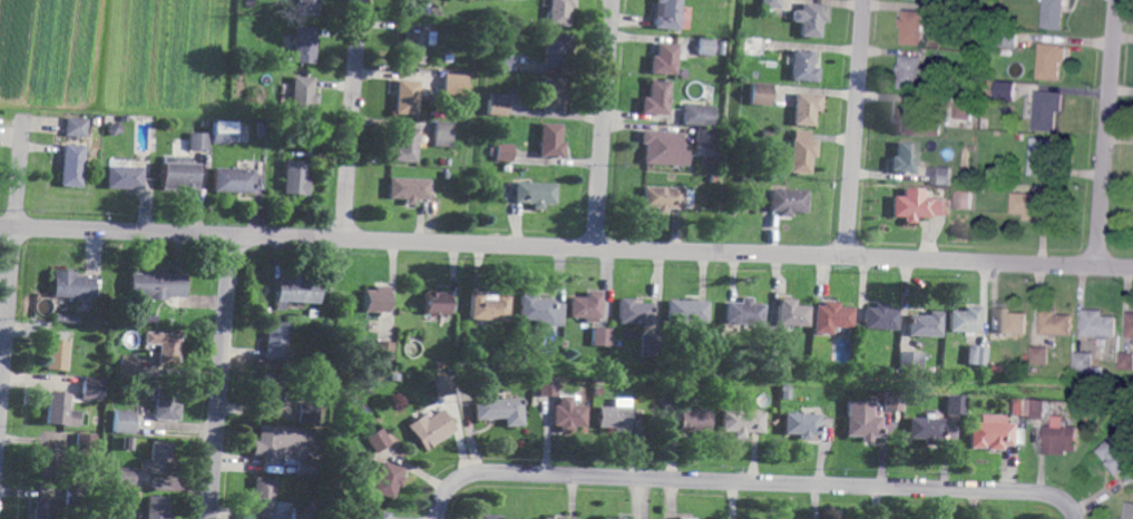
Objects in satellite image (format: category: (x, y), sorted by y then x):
building: (772, 3)
building: (307, 6)
building: (414, 7)
building: (244, 8)
building: (756, 10)
building: (560, 11)
building: (764, 11)
building: (667, 13)
building: (1055, 14)
building: (955, 16)
building: (809, 19)
building: (915, 27)
building: (1008, 41)
building: (305, 45)
building: (414, 46)
building: (753, 47)
building: (555, 49)
building: (704, 49)
building: (501, 57)
building: (940, 57)
building: (665, 58)
building: (257, 60)
building: (1054, 60)
building: (803, 66)
building: (911, 71)
building: (452, 84)
building: (1007, 91)
building: (759, 94)
building: (301, 95)
building: (553, 95)
building: (406, 98)
building: (656, 98)
building: (975, 102)
building: (499, 104)
building: (807, 108)
building: (963, 108)
building: (1048, 110)
building: (696, 116)
building: (124, 118)
road: (353, 119)
building: (912, 121)
road: (604, 124)
building: (986, 124)
building: (77, 126)
road: (856, 128)
building: (114, 129)
building: (260, 129)
building: (222, 133)
road: (1108, 133)
building: (717, 134)
building: (441, 135)
building: (765, 135)
building: (704, 138)
building: (198, 140)
building: (551, 140)
building: (404, 145)
building: (661, 148)
building: (501, 153)
building: (800, 153)
building: (1044, 157)
building: (902, 158)
building: (447, 163)
building: (705, 163)
building: (72, 165)
building: (508, 168)
building: (178, 174)
building: (944, 175)
building: (432, 176)
building: (125, 177)
building: (295, 177)
building: (234, 179)
building: (971, 182)
building: (980, 186)
building: (408, 189)
building: (536, 194)
building: (662, 198)
building: (964, 200)
building: (787, 202)
building: (1034, 205)
building: (916, 206)
road: (116, 231)
road: (258, 235)
road: (232, 246)
road: (557, 246)
road: (848, 256)
road: (998, 262)
road: (12, 272)
building: (72, 284)
building: (158, 285)
building: (295, 292)
building: (377, 300)
building: (585, 306)
building: (436, 307)
building: (490, 307)
building: (541, 310)
building: (687, 311)
building: (634, 312)
building: (743, 313)
building: (790, 313)
building: (311, 314)
building: (880, 316)
building: (831, 317)
building: (66, 319)
building: (150, 319)
building: (965, 320)
building: (1013, 321)
building: (1058, 322)
building: (1101, 323)
building: (925, 324)
building: (1131, 325)
building: (600, 336)
building: (276, 340)
building: (699, 340)
building: (615, 343)
building: (166, 346)
building: (649, 346)
building: (383, 349)
building: (535, 353)
building: (57, 354)
building: (1042, 354)
building: (974, 355)
building: (771, 358)
building: (910, 360)
building: (1126, 360)
building: (1085, 361)
building: (440, 365)
building: (129, 366)
building: (1100, 371)
building: (1063, 375)
building: (395, 376)
building: (458, 379)
building: (445, 385)
building: (547, 386)
building: (89, 388)
road: (221, 388)
building: (272, 389)
building: (597, 391)
building: (784, 395)
building: (843, 395)
building: (891, 402)
building: (163, 403)
building: (954, 405)
building: (1017, 407)
building: (53, 409)
building: (1036, 409)
building: (499, 410)
building: (309, 412)
building: (567, 418)
building: (613, 418)
building: (96, 420)
building: (694, 420)
building: (859, 420)
building: (121, 421)
building: (742, 422)
building: (801, 424)
building: (430, 429)
building: (924, 430)
building: (992, 433)
building: (1064, 437)
building: (378, 440)
building: (268, 441)
building: (82, 444)
building: (160, 457)
building: (1119, 457)
building: (51, 463)
building: (305, 466)
building: (96, 473)
building: (123, 478)
building: (388, 480)
road: (761, 481)
building: (263, 493)
building: (136, 494)
building: (75, 498)
road: (442, 500)
building: (157, 508)
building: (43, 509)
road: (1074, 510)
building: (1130, 511)
building: (297, 513)
building: (378, 515)
building: (488, 517)
building: (621, 517)
building: (547, 518)
building: (605, 518)
building: (682, 518)
building: (1122, 518)

